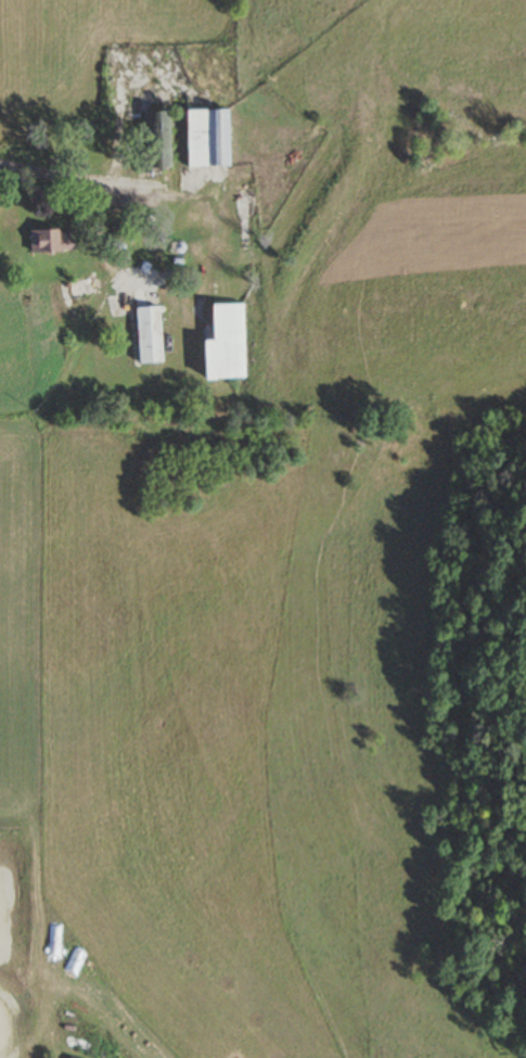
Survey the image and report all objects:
building: (206, 138)
building: (156, 139)
road: (55, 171)
building: (50, 240)
building: (147, 334)
building: (219, 345)

